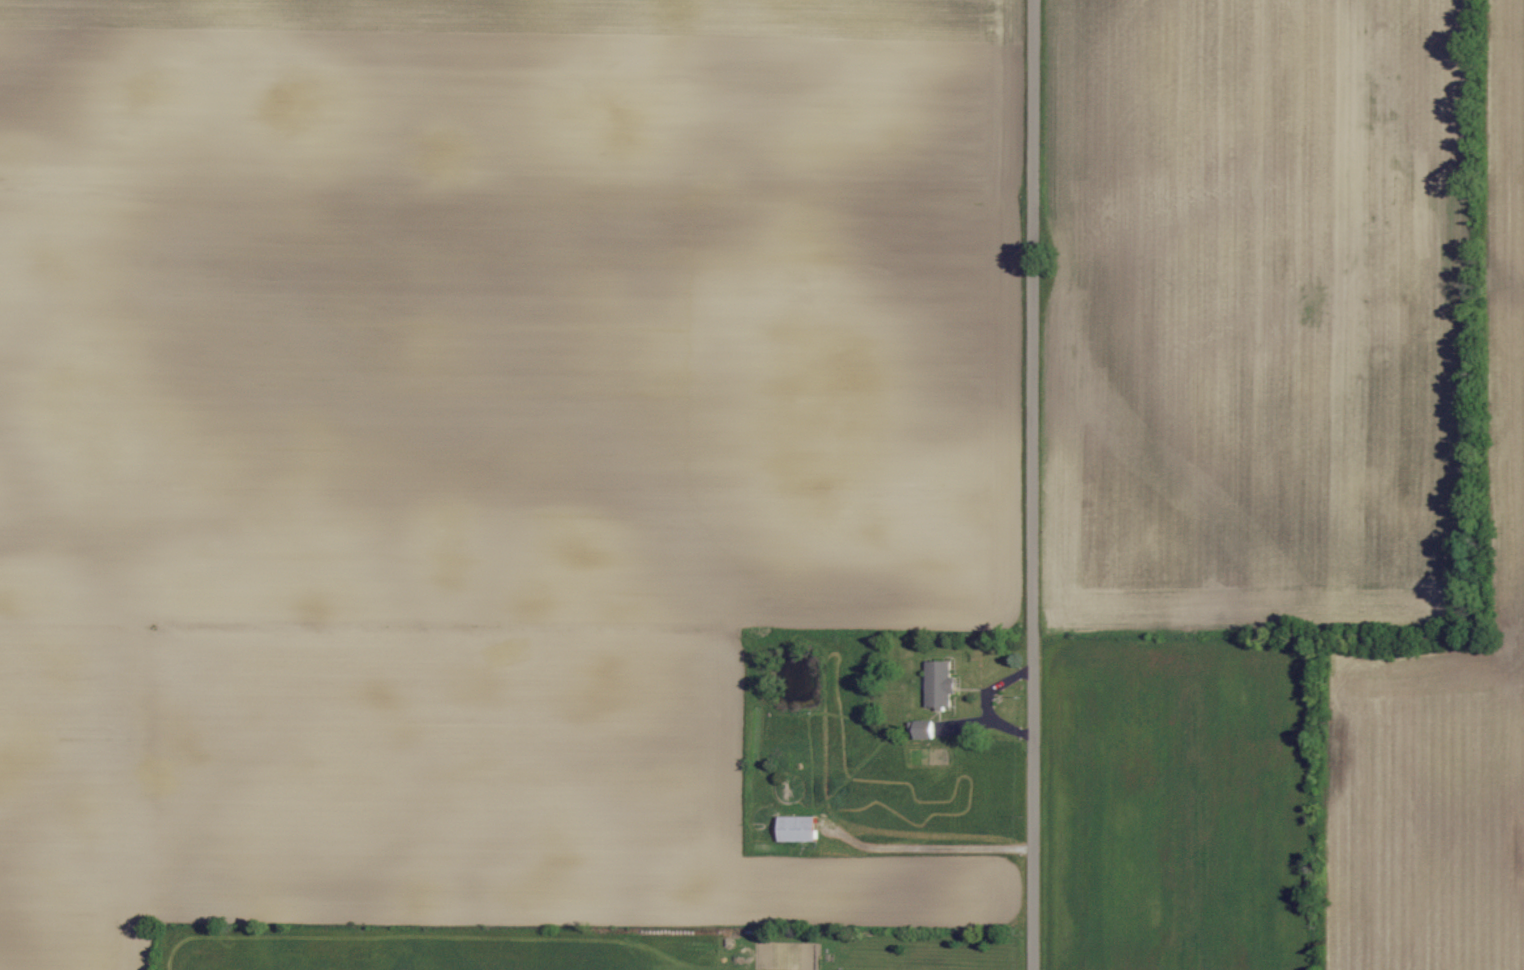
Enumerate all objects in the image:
road: (1035, 484)
building: (942, 684)
building: (925, 730)
building: (799, 829)
road: (930, 849)

